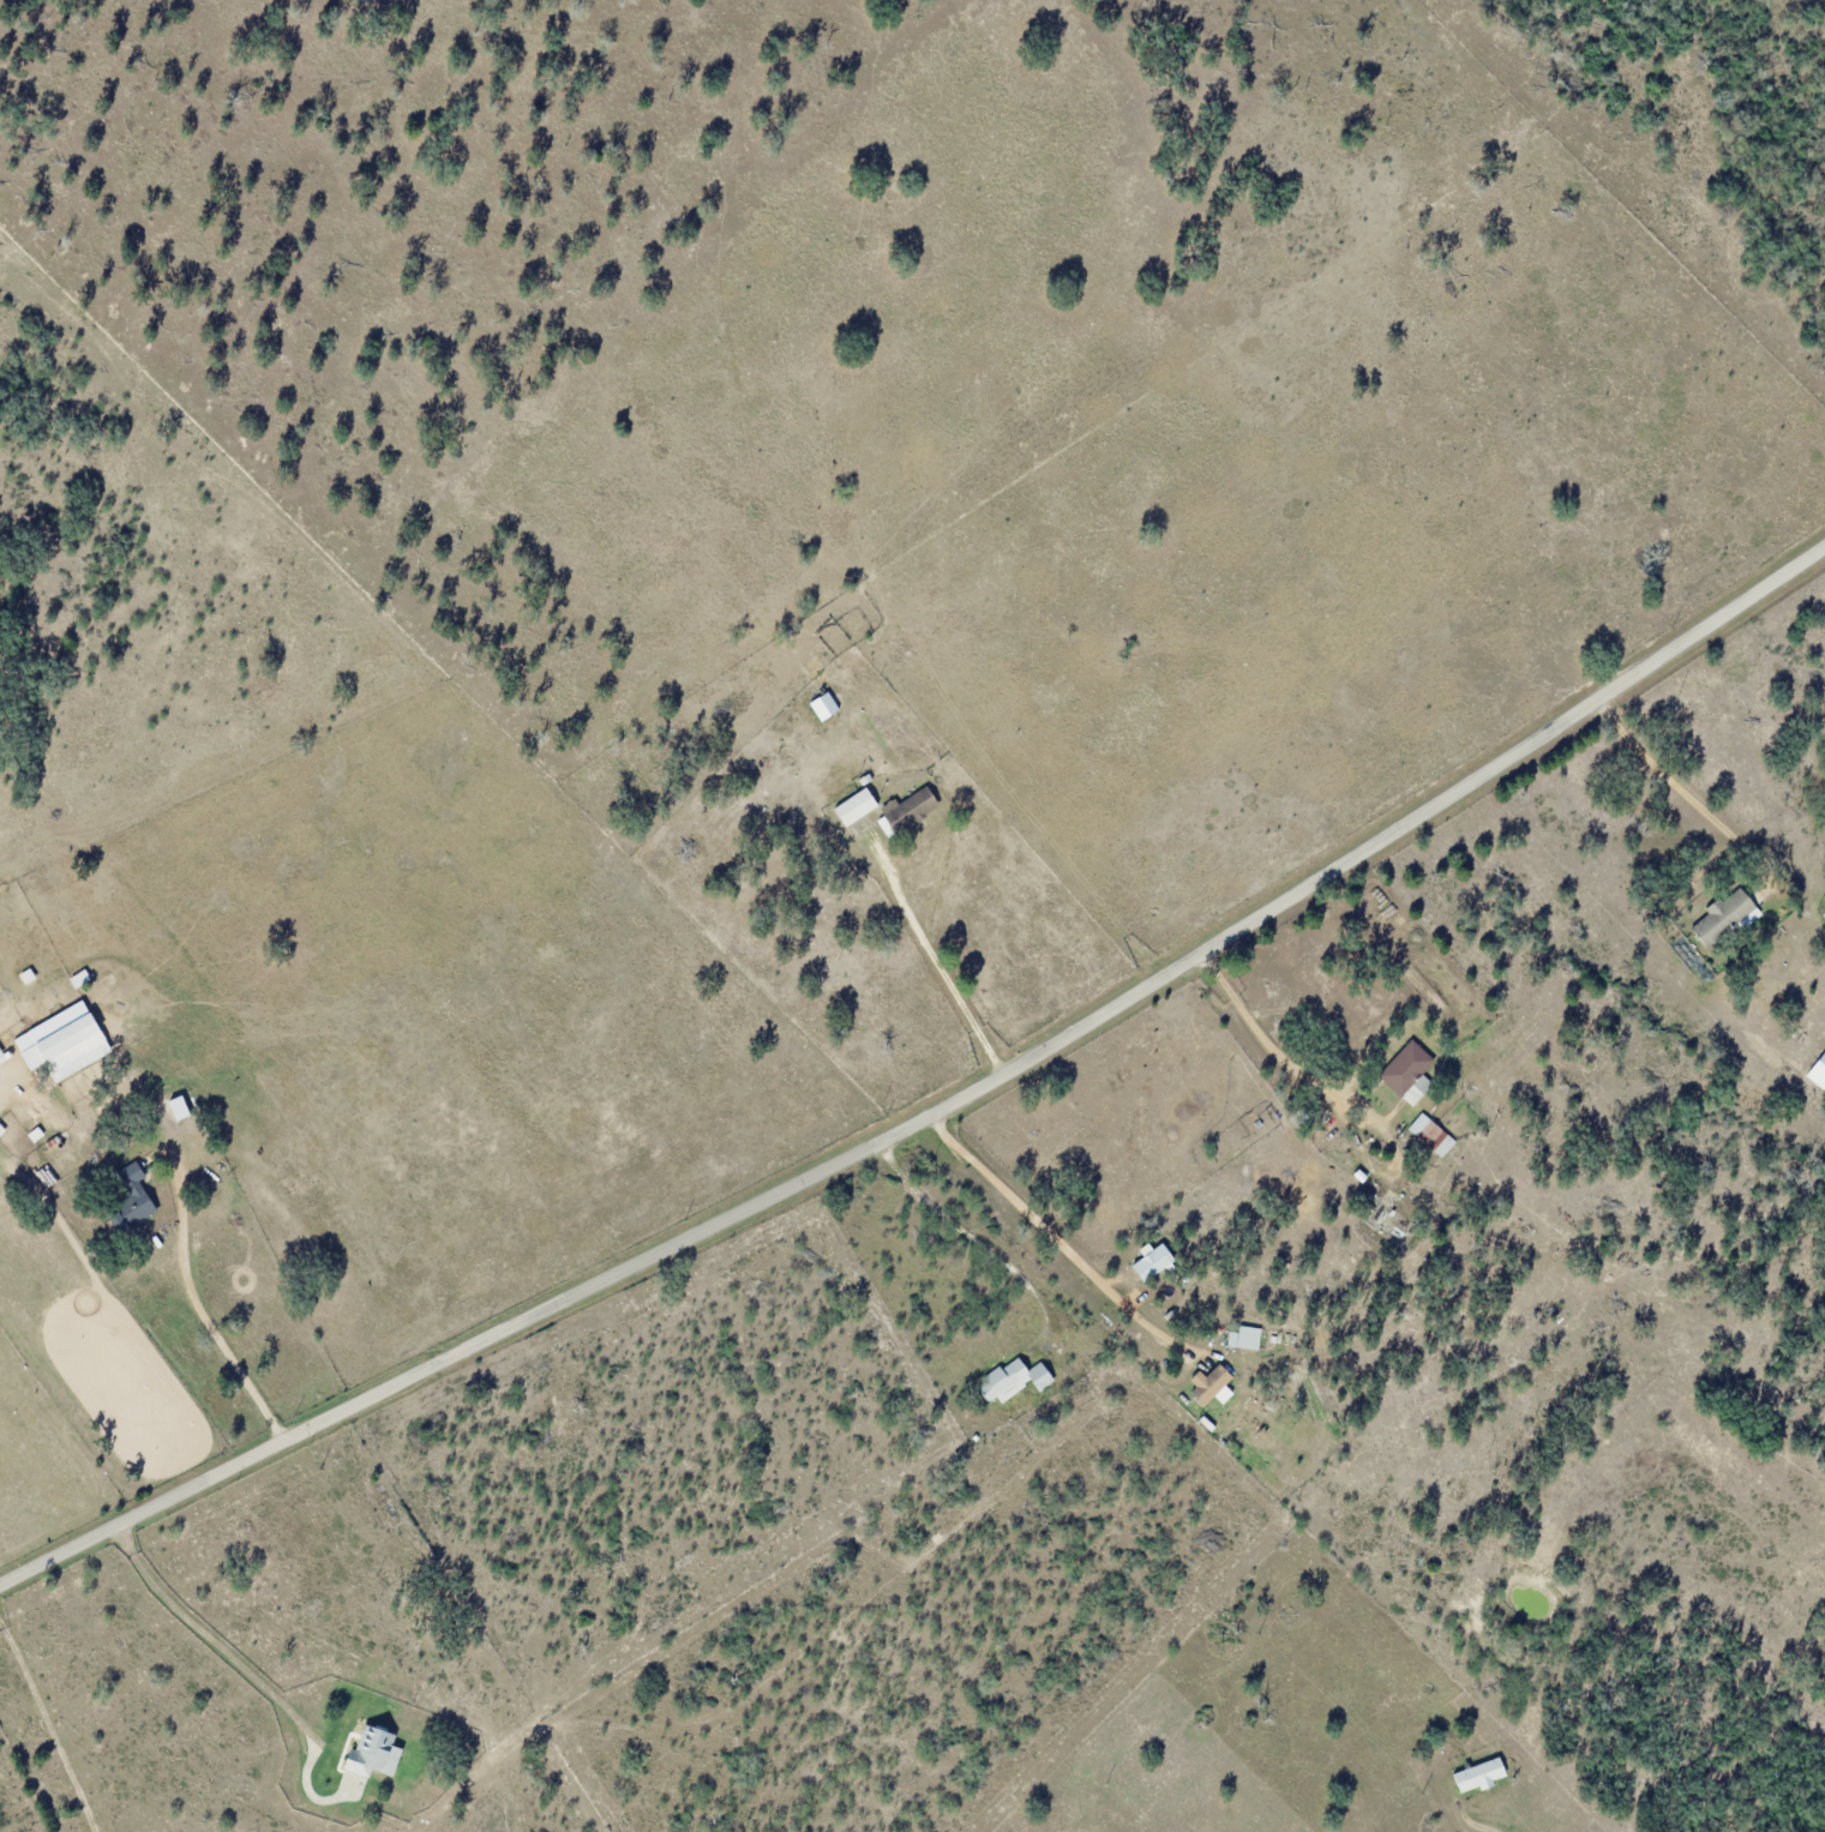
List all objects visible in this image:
building: (823, 705)
road: (1658, 763)
building: (854, 806)
building: (910, 809)
building: (1722, 914)
road: (942, 962)
building: (74, 1051)
road: (1269, 1051)
building: (1405, 1068)
building: (1818, 1071)
road: (937, 1107)
building: (1430, 1134)
building: (128, 1199)
road: (948, 1219)
road: (1056, 1244)
building: (1147, 1271)
road: (196, 1302)
building: (1011, 1380)
building: (1211, 1384)
road: (203, 1629)
building: (373, 1752)
building: (1478, 1774)
building: (1203, 1825)

